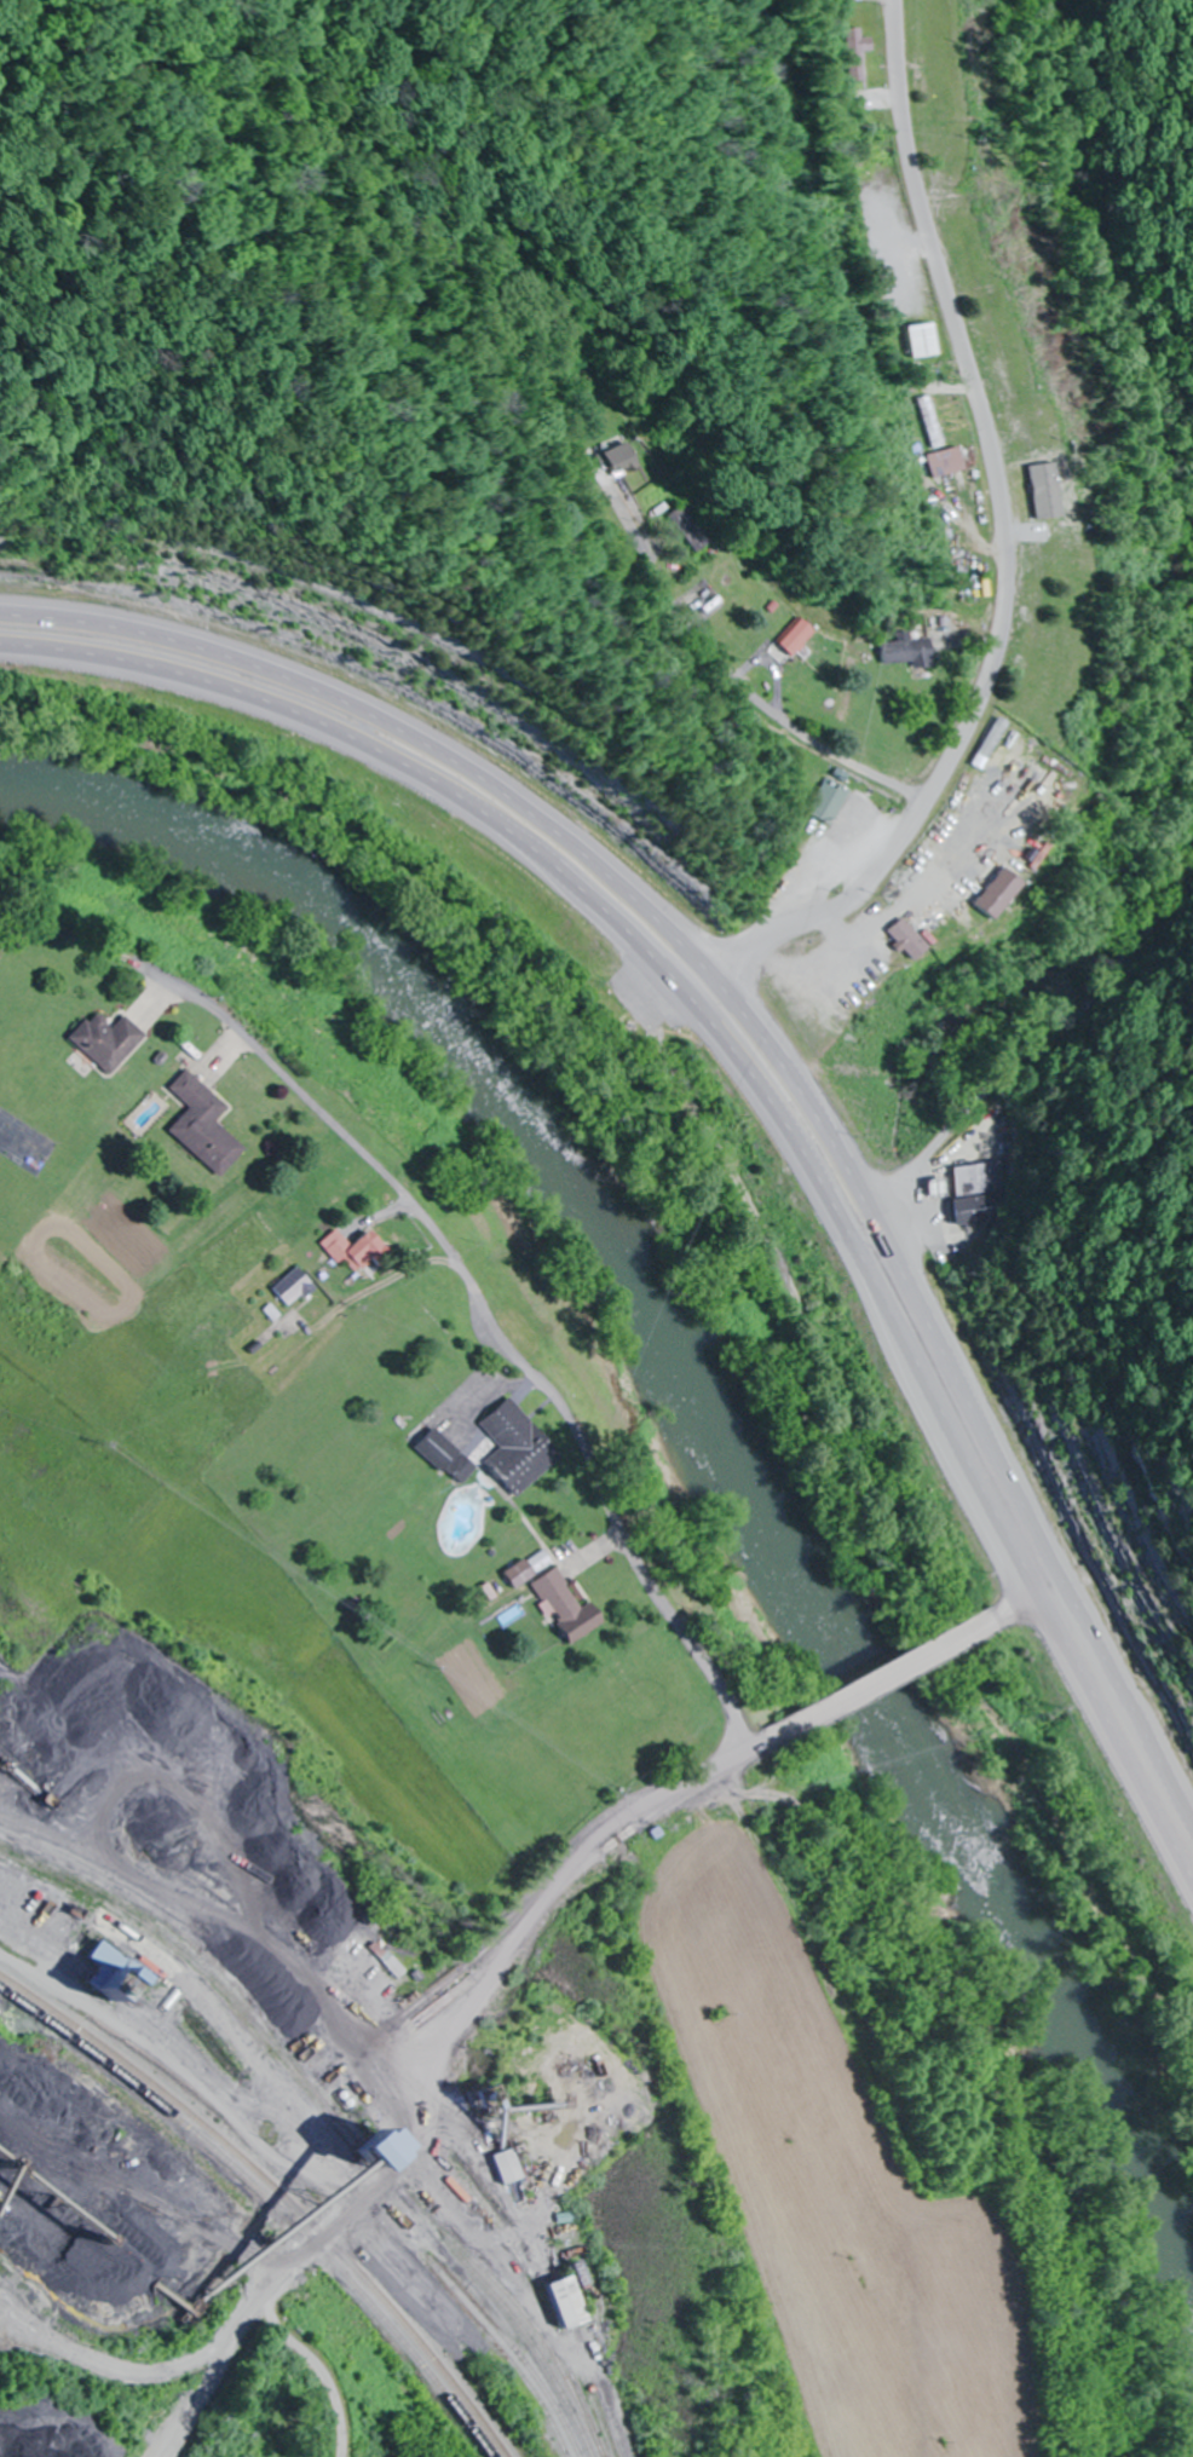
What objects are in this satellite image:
building: (855, 56)
building: (923, 342)
building: (629, 460)
building: (949, 463)
building: (696, 527)
road: (1003, 544)
building: (803, 636)
building: (912, 651)
road: (780, 726)
building: (831, 802)
building: (1020, 841)
road: (699, 986)
road: (757, 1027)
building: (105, 1042)
road: (1026, 1059)
road: (755, 1091)
building: (201, 1125)
building: (974, 1195)
building: (353, 1250)
building: (292, 1287)
road: (506, 1340)
river: (710, 1392)
building: (515, 1449)
building: (445, 1457)
road: (1031, 1598)
building: (565, 1608)
road: (881, 1680)
road: (577, 1864)
road: (219, 1910)
road: (181, 2067)
railway: (362, 2099)
building: (413, 2155)
road: (399, 2168)
building: (514, 2175)
railway: (270, 2205)
building: (575, 2305)
road: (312, 2359)
road: (167, 2375)

